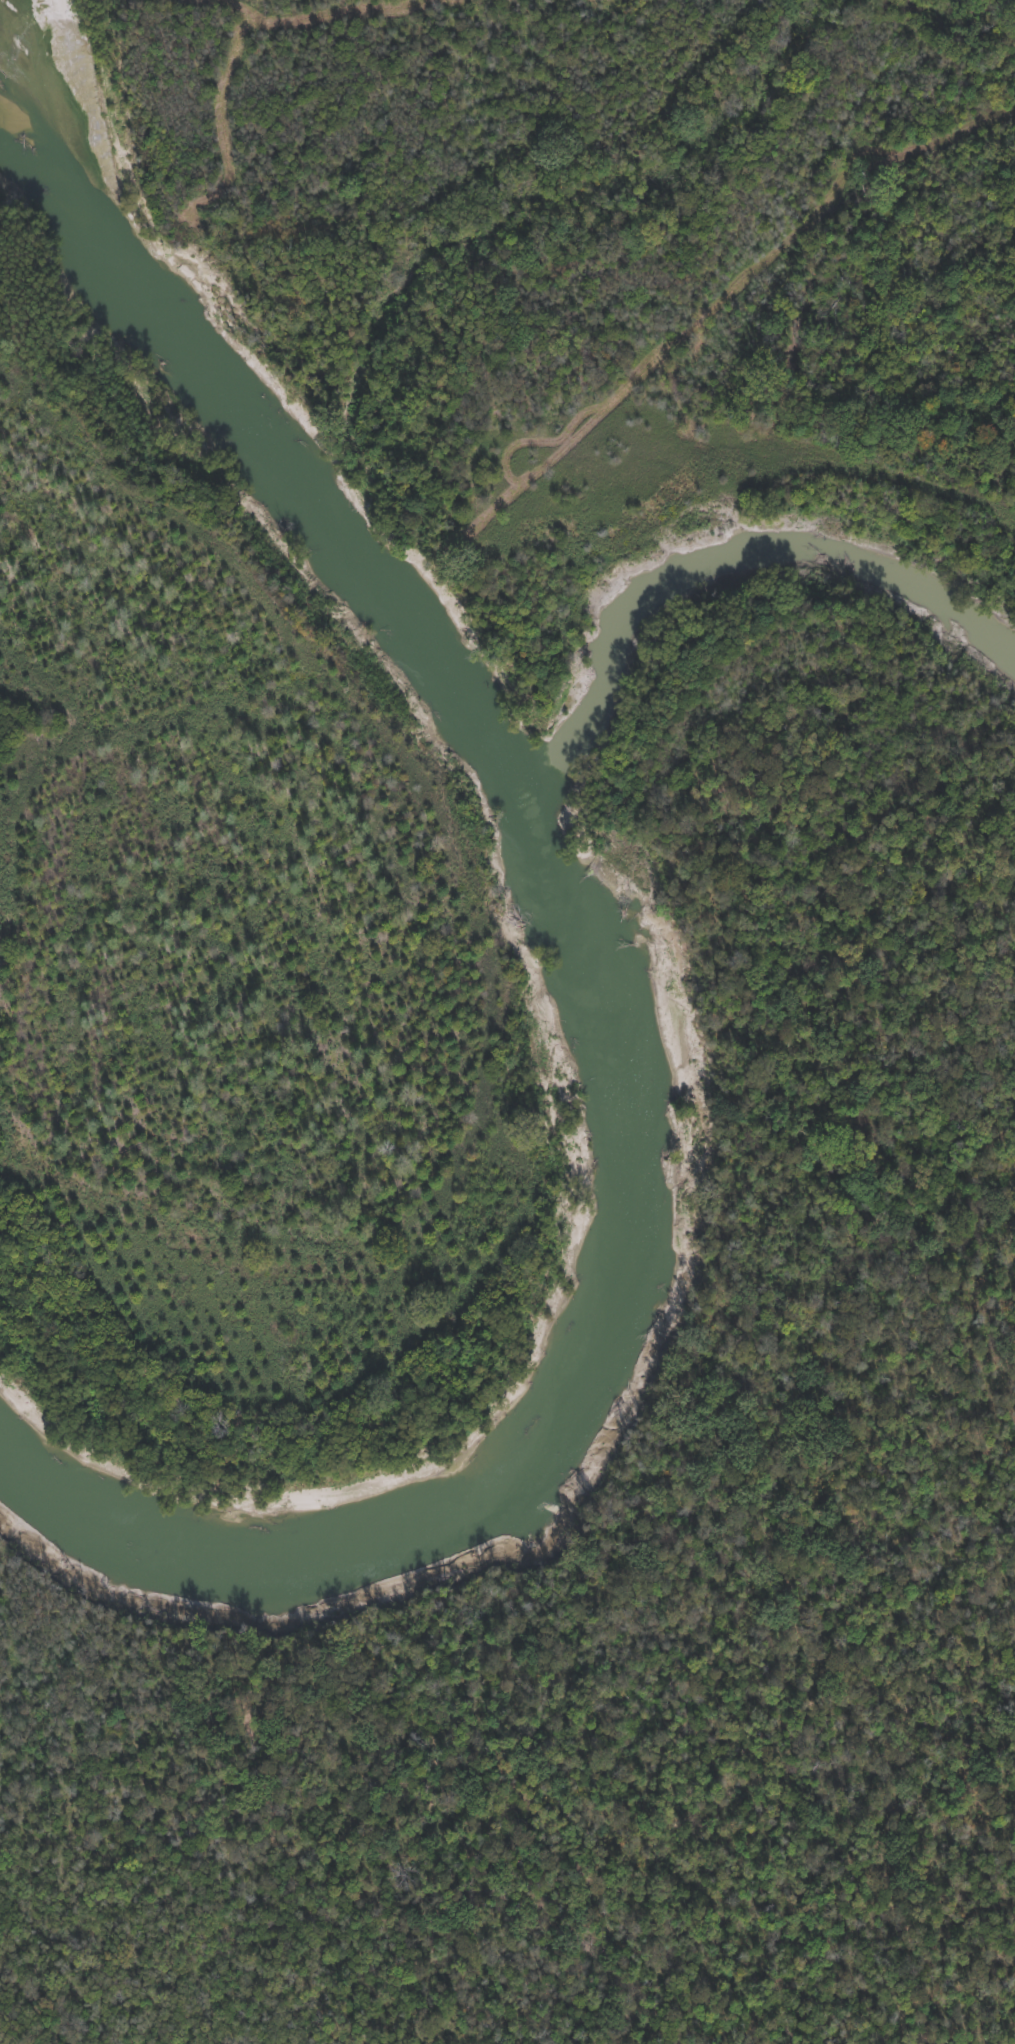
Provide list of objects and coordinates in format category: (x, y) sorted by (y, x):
river: (719, 568)
river: (591, 935)

